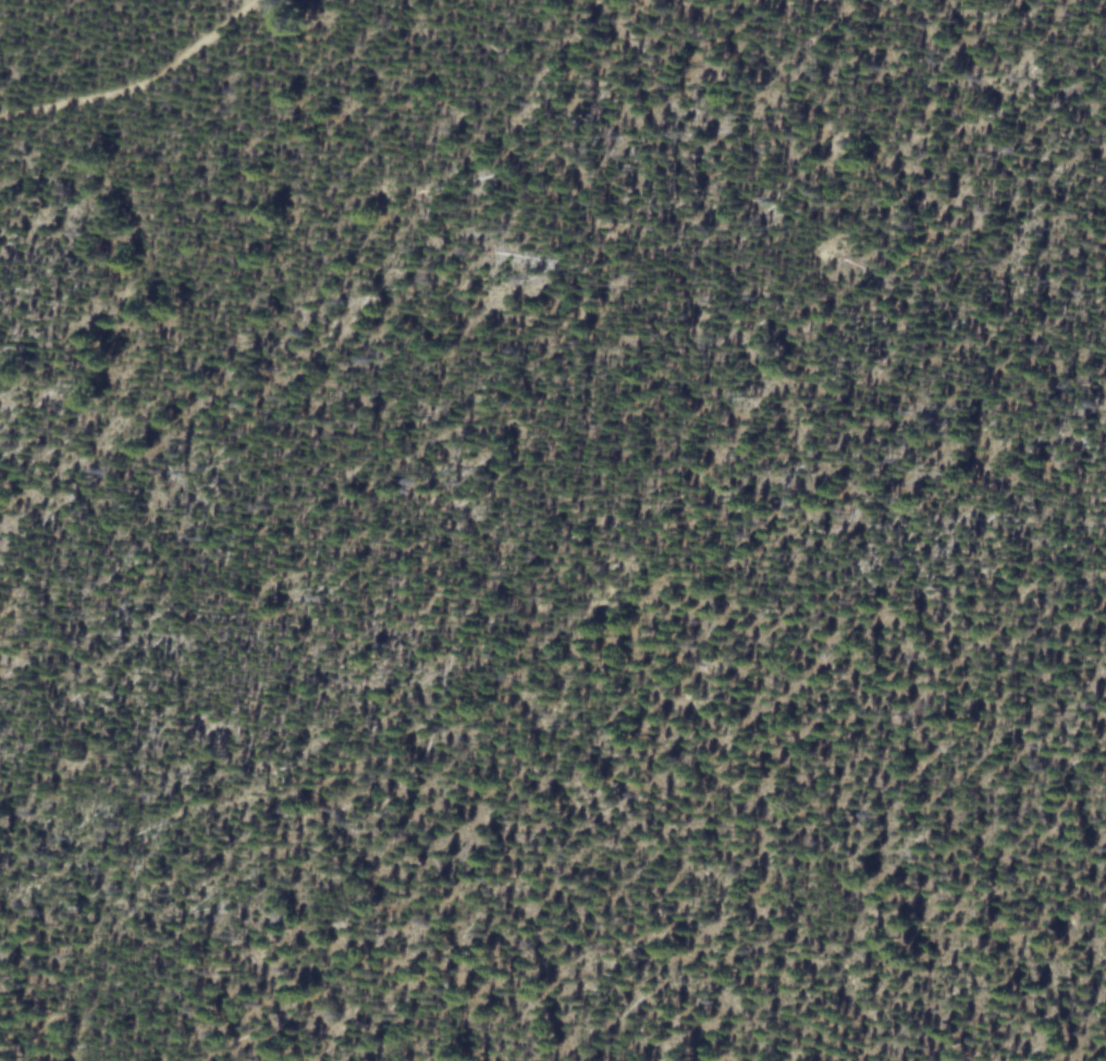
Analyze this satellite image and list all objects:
road: (140, 85)

